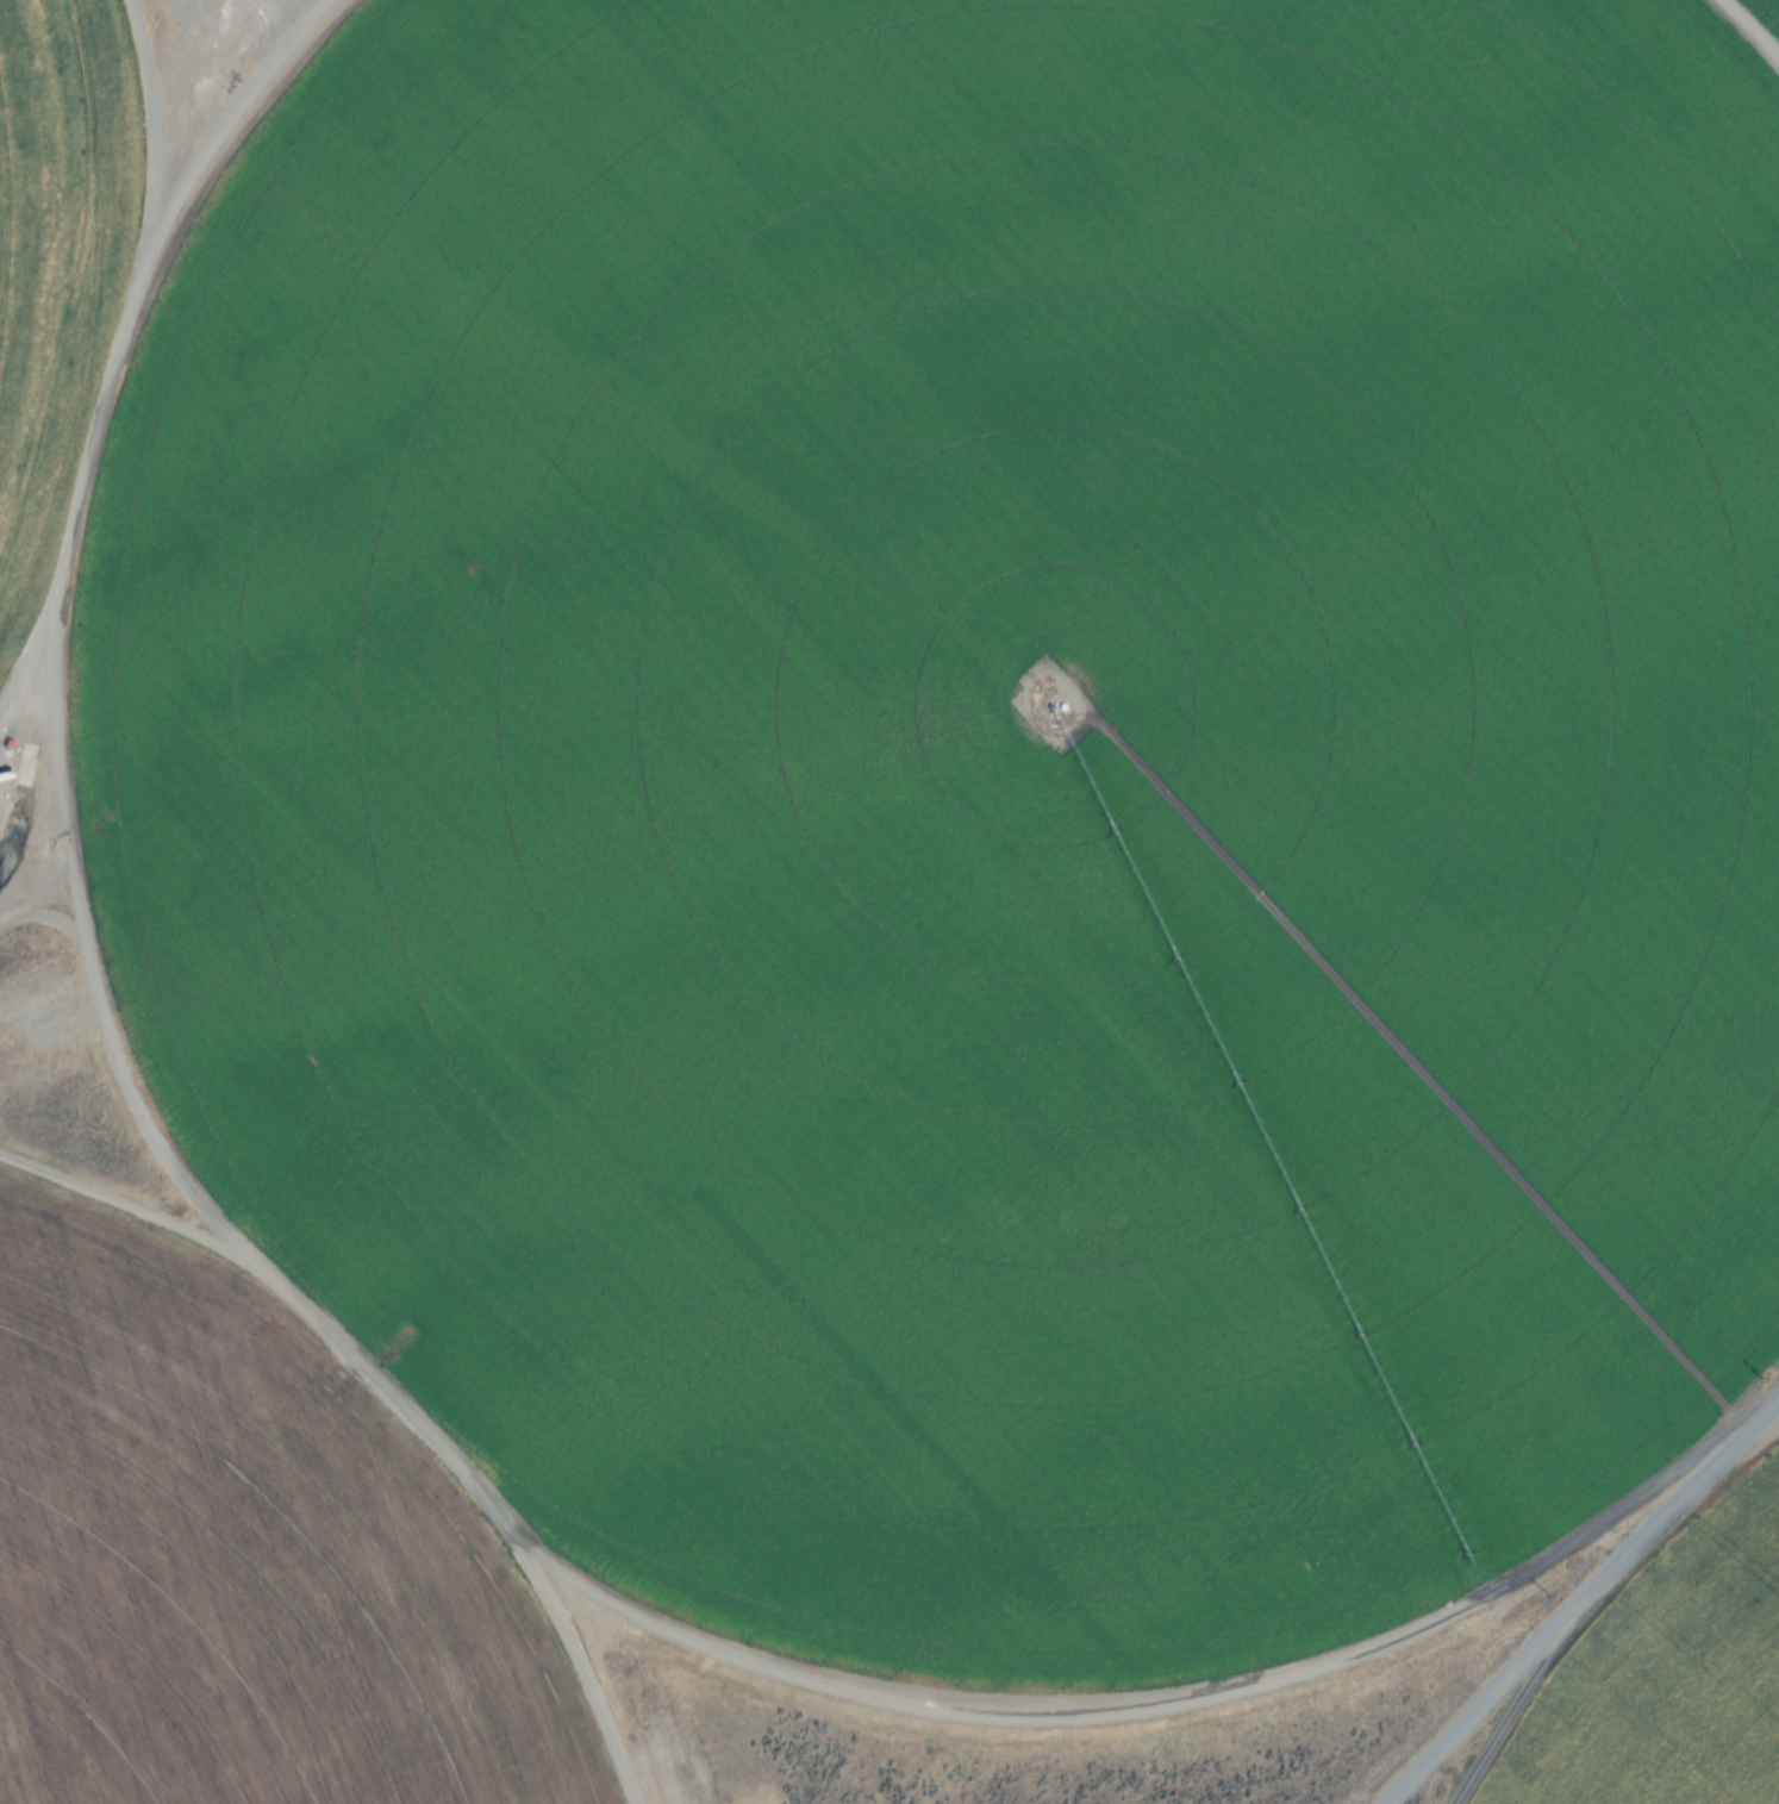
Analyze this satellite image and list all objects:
road: (1586, 1606)

